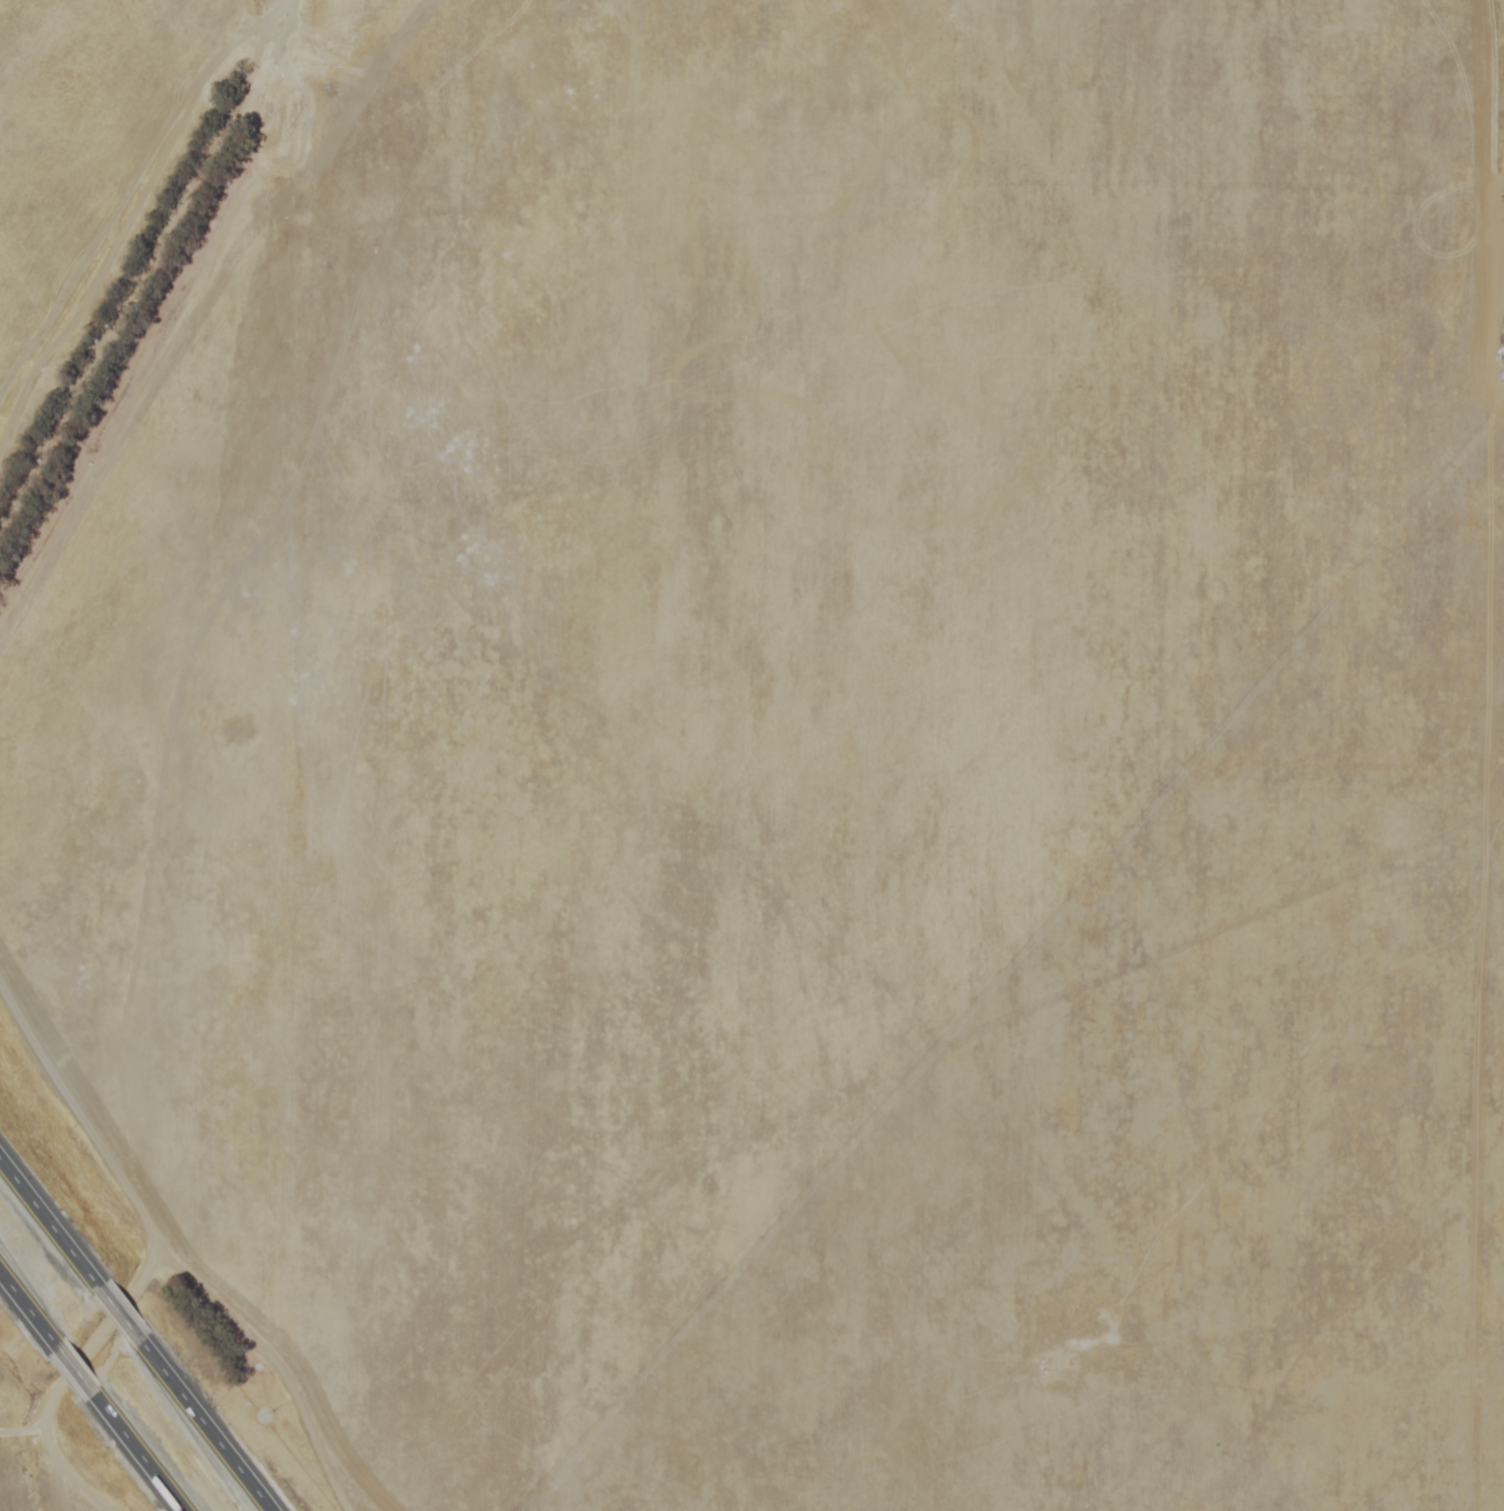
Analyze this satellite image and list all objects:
road: (148, 265)
crop: (770, 738)
road: (46, 1220)
road: (173, 1262)
road: (24, 1306)
road: (115, 1308)
road: (67, 1363)
road: (63, 1379)
road: (203, 1424)
road: (21, 1428)
road: (133, 1449)

